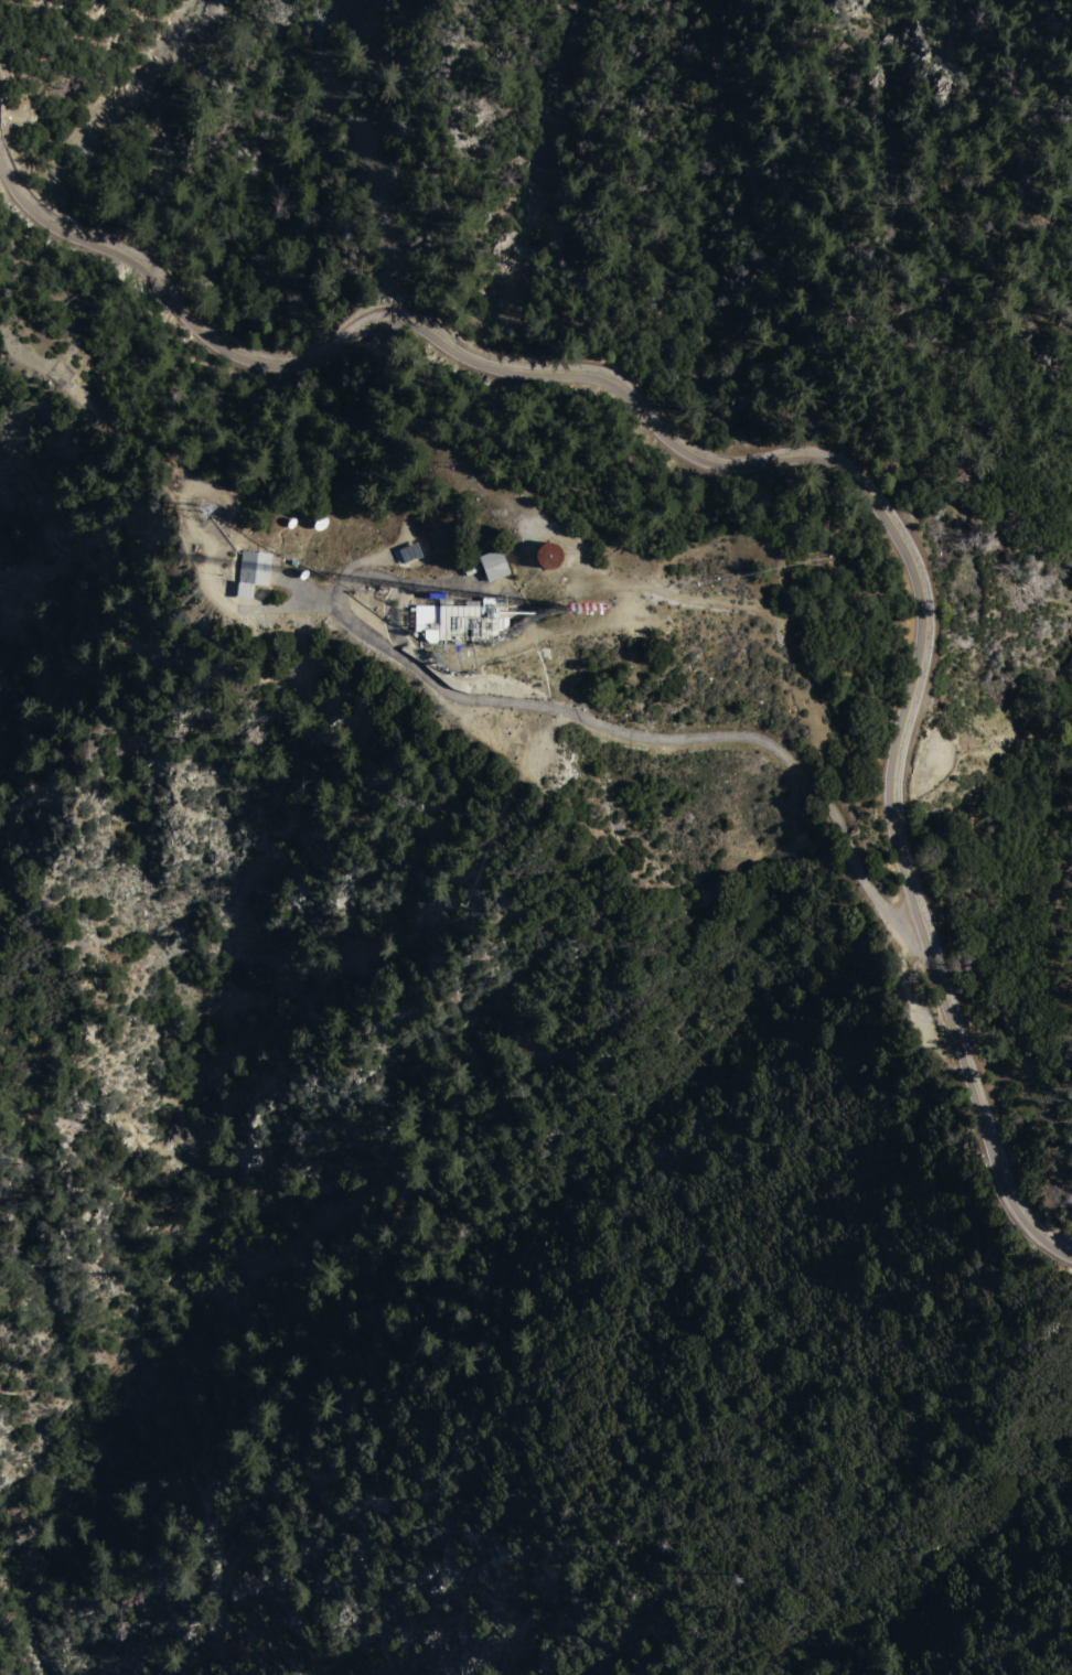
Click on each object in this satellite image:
helipad: (60, 374)
road: (535, 434)
road: (785, 459)
building: (444, 534)
building: (424, 537)
building: (549, 555)
storage tank: (549, 555)
building: (522, 559)
building: (494, 565)
building: (270, 568)
building: (253, 571)
building: (460, 620)
road: (580, 717)

